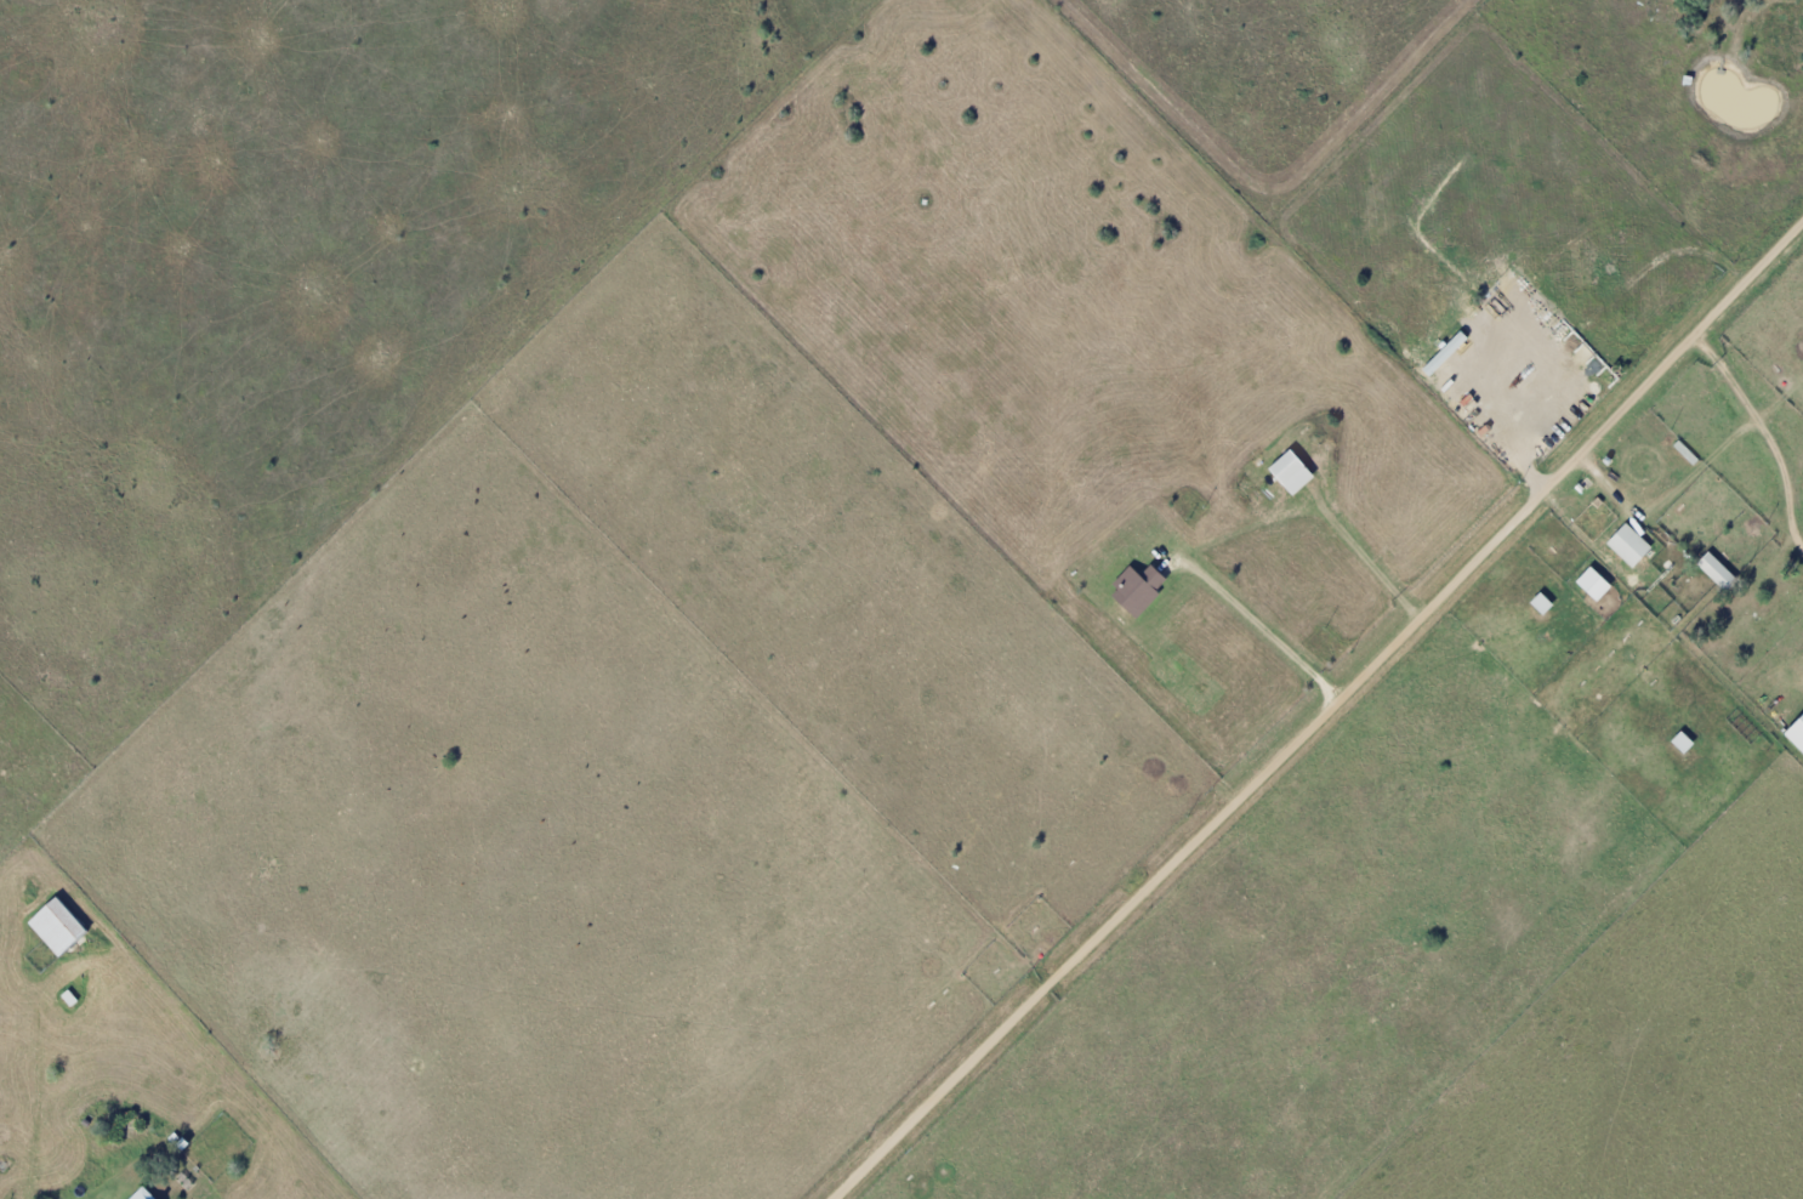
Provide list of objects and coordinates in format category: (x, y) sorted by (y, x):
road: (1764, 433)
building: (1287, 473)
building: (1626, 545)
building: (1713, 573)
building: (1589, 585)
building: (1134, 591)
building: (1537, 604)
road: (1327, 716)
building: (1795, 734)
building: (1678, 743)
building: (62, 927)

